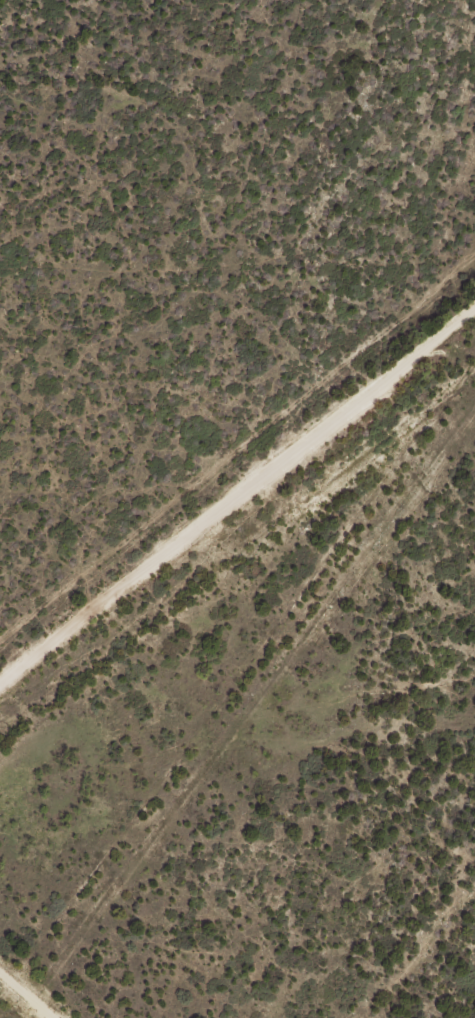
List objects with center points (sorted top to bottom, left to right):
road: (237, 488)

